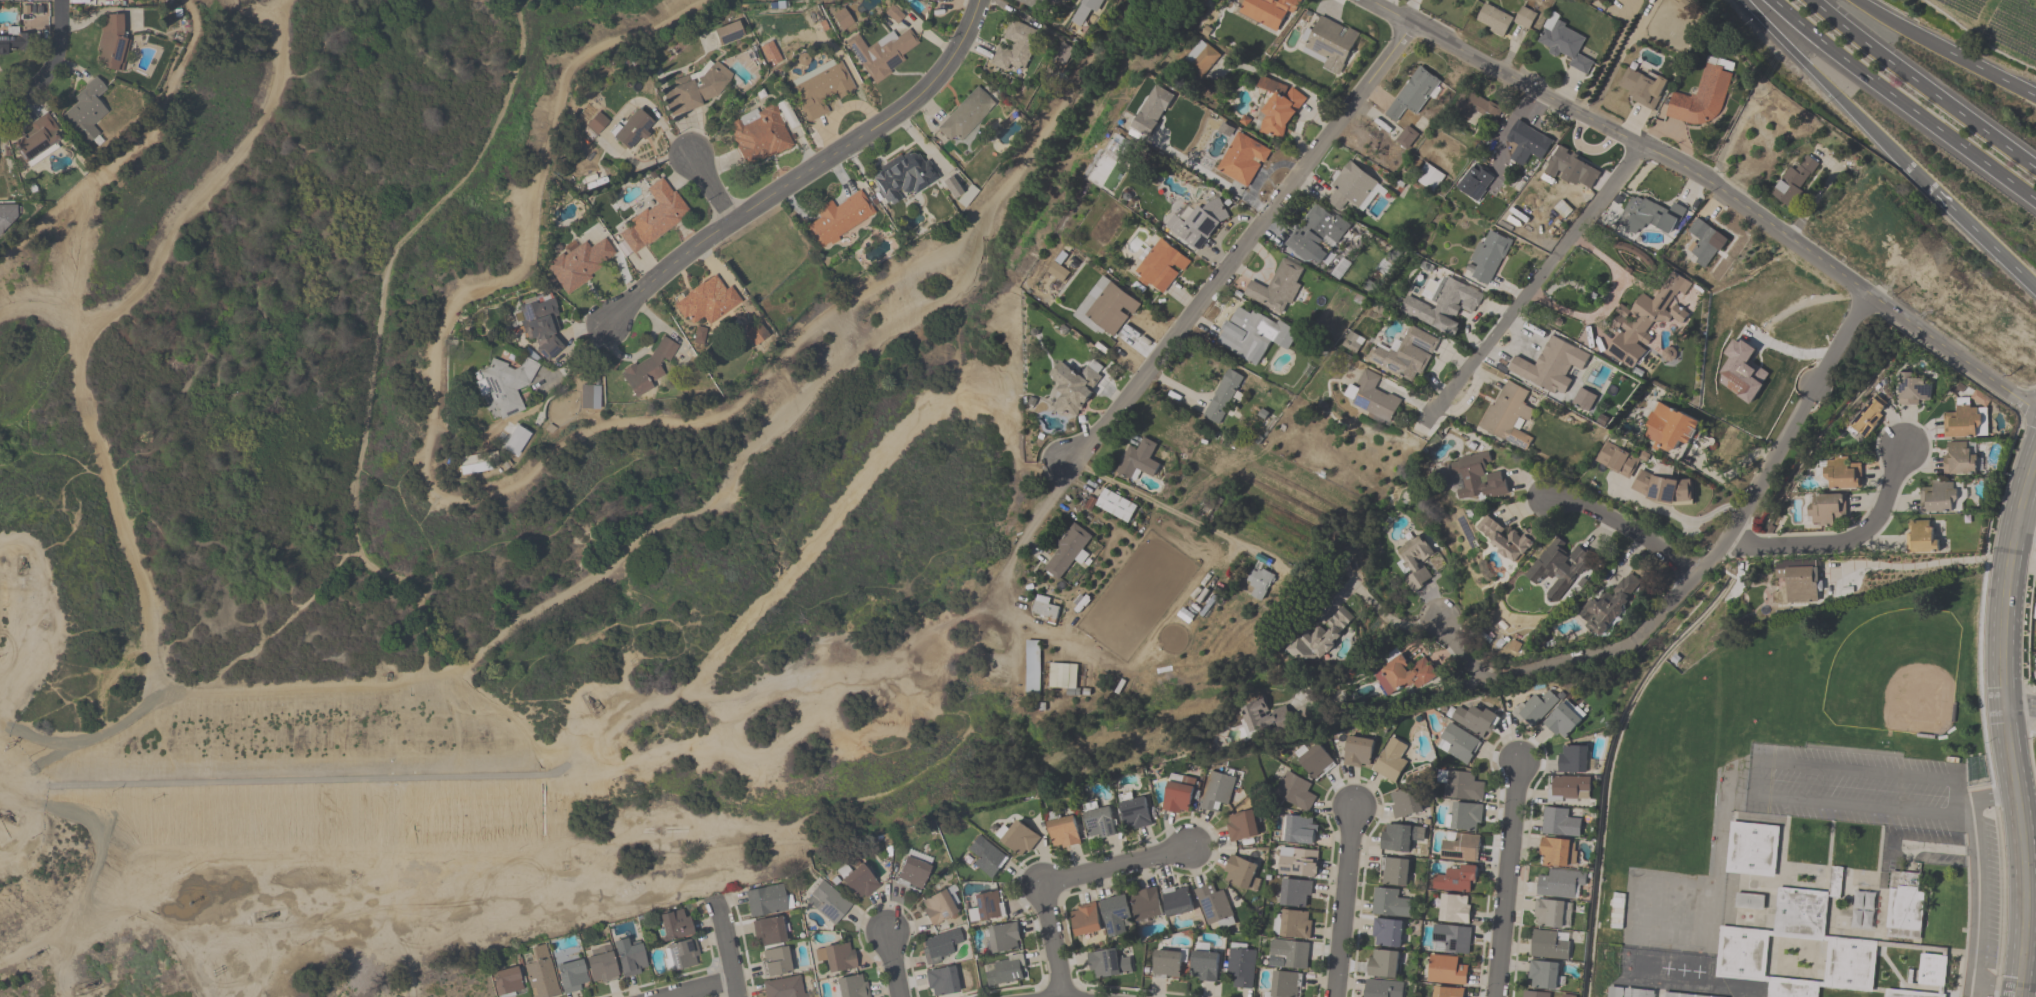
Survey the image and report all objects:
building: (106, 0)
building: (938, 0)
building: (1471, 0)
building: (1615, 1)
building: (1038, 3)
road: (1388, 5)
building: (1267, 12)
building: (894, 14)
building: (1083, 17)
building: (843, 19)
building: (1503, 19)
road: (1913, 33)
building: (727, 34)
building: (14, 43)
building: (113, 43)
building: (1565, 44)
building: (1328, 45)
building: (1017, 47)
building: (882, 53)
building: (770, 54)
road: (1607, 59)
building: (1201, 60)
road: (54, 66)
road: (2005, 82)
road: (1926, 83)
building: (1641, 87)
building: (698, 88)
building: (821, 89)
road: (1834, 93)
building: (1413, 94)
building: (1702, 99)
road: (1900, 105)
building: (1277, 108)
building: (1478, 109)
building: (87, 111)
building: (967, 115)
road: (1298, 121)
building: (597, 123)
building: (633, 129)
building: (759, 135)
building: (1406, 137)
building: (37, 139)
building: (1531, 142)
building: (1116, 151)
road: (132, 153)
building: (1241, 160)
building: (1574, 167)
road: (807, 171)
building: (903, 176)
building: (1429, 177)
building: (1793, 180)
road: (209, 184)
road: (1714, 185)
road: (711, 186)
building: (951, 187)
building: (1351, 188)
building: (1650, 212)
building: (652, 217)
building: (839, 218)
building: (1198, 223)
building: (1318, 233)
road: (1981, 235)
building: (1705, 243)
road: (1242, 249)
building: (1487, 257)
building: (580, 264)
building: (1161, 267)
road: (1537, 277)
building: (1277, 287)
building: (707, 301)
road: (1608, 303)
building: (1443, 306)
building: (1106, 308)
building: (1645, 322)
building: (542, 327)
building: (1253, 334)
building: (756, 336)
building: (1352, 342)
building: (1406, 354)
road: (577, 360)
building: (1548, 365)
building: (646, 371)
building: (506, 385)
building: (1074, 387)
building: (1913, 391)
building: (1223, 396)
building: (1372, 397)
building: (589, 398)
building: (1508, 415)
building: (1867, 418)
building: (1962, 423)
building: (1671, 428)
park: (792, 436)
building: (1138, 460)
building: (1617, 460)
building: (1959, 460)
building: (472, 464)
building: (1838, 474)
building: (1477, 479)
building: (1661, 487)
building: (1939, 497)
building: (1116, 505)
road: (1165, 507)
building: (1823, 509)
road: (1678, 518)
road: (1630, 529)
road: (2025, 531)
building: (1923, 537)
building: (1506, 538)
road: (1842, 539)
road: (1722, 543)
building: (1068, 551)
road: (130, 561)
building: (1415, 562)
petroleum well: (21, 564)
road: (1919, 564)
building: (1558, 567)
road: (1009, 578)
building: (1798, 582)
building: (1260, 586)
road: (569, 592)
building: (1609, 606)
building: (1044, 607)
building: (2033, 610)
road: (1391, 623)
building: (1322, 638)
road: (264, 640)
road: (424, 642)
road: (1462, 648)
building: (1032, 667)
building: (1062, 676)
building: (1403, 676)
road: (349, 685)
road: (2019, 706)
building: (1536, 707)
building: (1262, 719)
building: (1476, 720)
road: (2005, 725)
building: (1458, 744)
building: (1358, 752)
building: (1572, 759)
building: (1391, 760)
building: (1315, 761)
road: (1758, 776)
building: (1461, 785)
building: (1568, 789)
building: (1215, 792)
building: (1294, 792)
building: (1178, 794)
road: (1988, 795)
building: (1405, 802)
building: (1133, 811)
building: (1466, 816)
petroleum well: (6, 817)
building: (1097, 822)
building: (1560, 823)
building: (1241, 827)
building: (1062, 831)
building: (1299, 831)
building: (1017, 837)
building: (1401, 837)
building: (1459, 847)
building: (1752, 850)
building: (1557, 852)
building: (987, 857)
building: (1297, 862)
building: (914, 871)
building: (1394, 871)
building: (1240, 873)
road: (1504, 878)
building: (1455, 879)
road: (1059, 880)
building: (858, 881)
building: (1561, 884)
building: (1655, 887)
building: (1696, 892)
building: (1296, 894)
building: (768, 901)
building: (1177, 901)
building: (828, 902)
road: (1342, 902)
building: (1389, 903)
building: (1146, 904)
building: (988, 906)
building: (940, 907)
building: (1905, 907)
building: (1215, 908)
building: (1455, 909)
road: (1978, 909)
building: (1617, 911)
building: (1863, 911)
building: (1552, 914)
building: (1115, 915)
petroleum well: (267, 916)
building: (1086, 920)
building: (1292, 924)
building: (674, 925)
building: (769, 931)
building: (1386, 933)
building: (1003, 938)
building: (1451, 939)
road: (723, 941)
building: (941, 945)
building: (1550, 945)
building: (1795, 950)
building: (683, 954)
building: (1288, 954)
building: (631, 957)
building: (837, 957)
road: (2028, 960)
building: (777, 961)
building: (1624, 962)
building: (1204, 963)
building: (1382, 963)
building: (601, 964)
road: (894, 964)
building: (1109, 964)
building: (1167, 965)
building: (1242, 965)
building: (1004, 971)
building: (1446, 971)
building: (571, 972)
building: (541, 973)
building: (1544, 975)
building: (1927, 978)
building: (942, 981)
building: (508, 982)
building: (1286, 984)
petroleum well: (90, 985)
building: (852, 986)
building: (783, 987)
building: (1382, 988)
road: (706, 990)
road: (734, 990)
building: (1446, 992)
building: (1645, 993)
building: (1535, 994)
building: (1566, 996)

